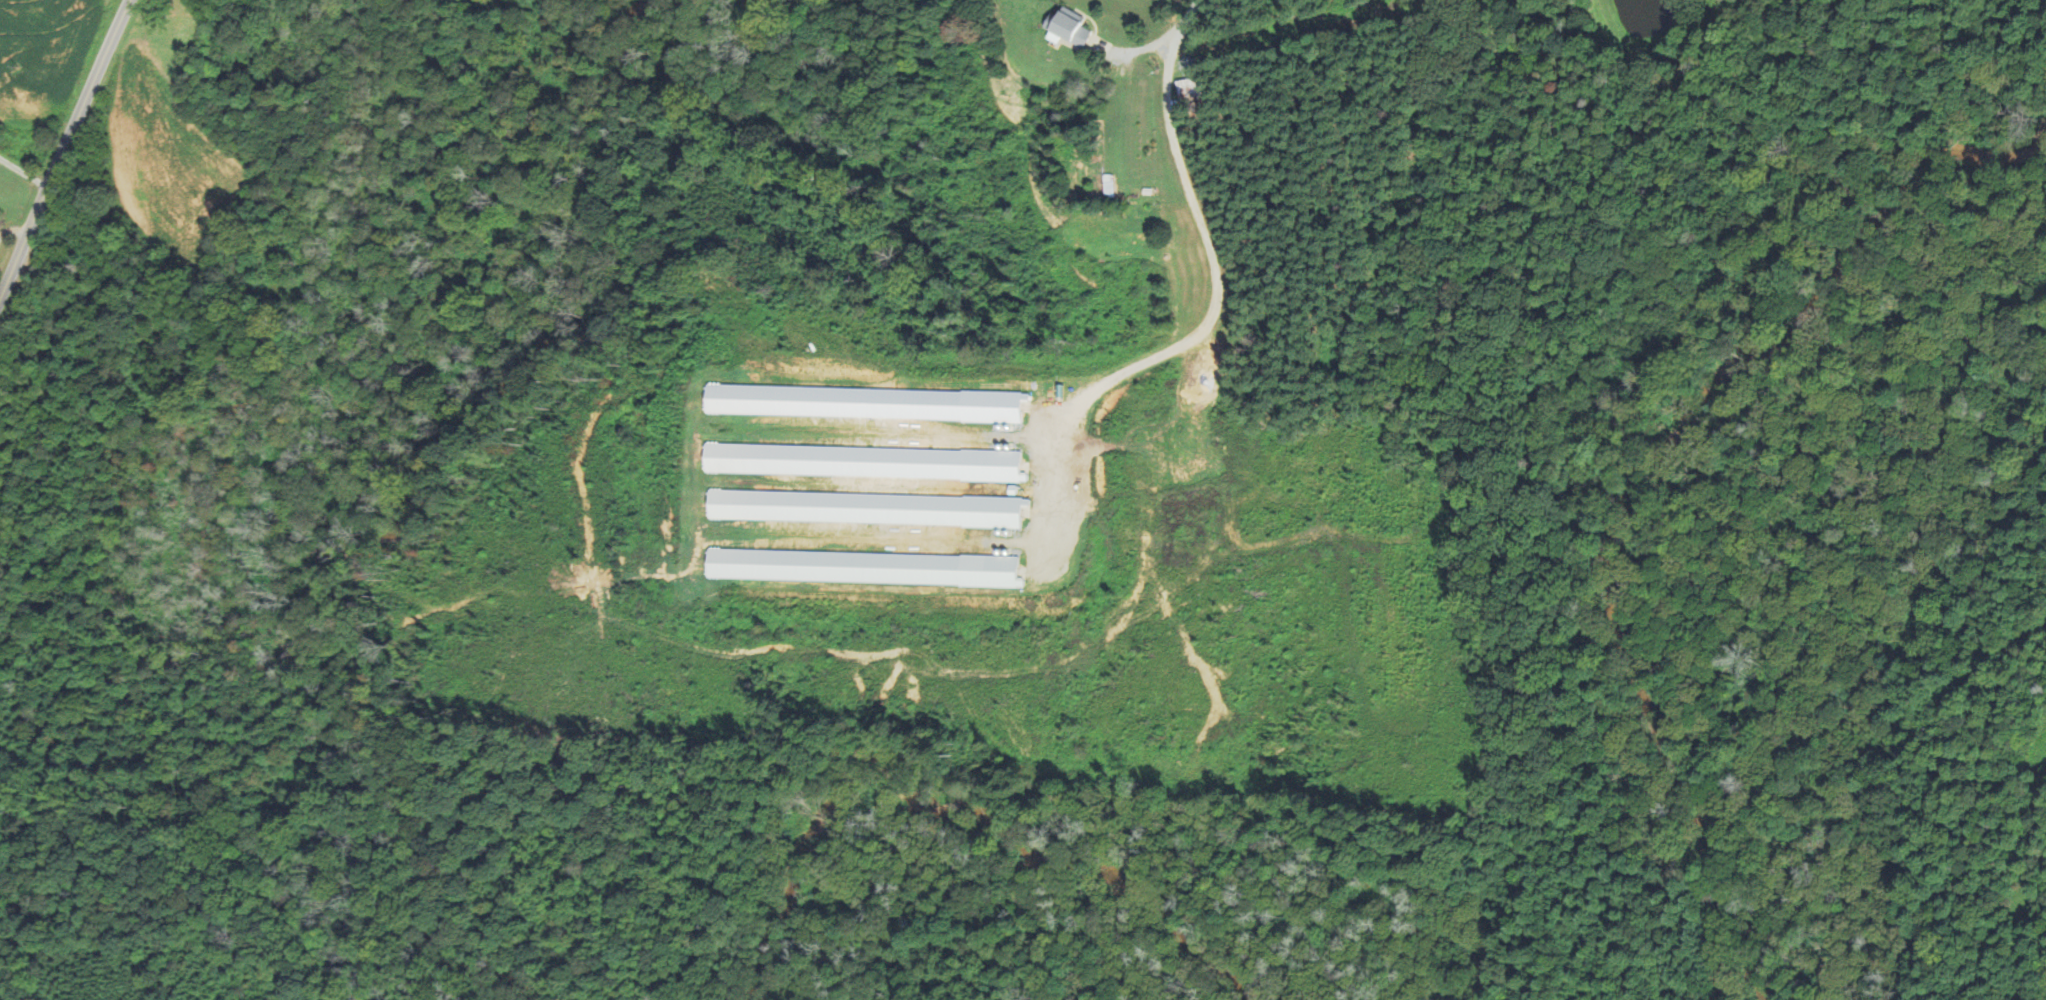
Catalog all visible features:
building: (1074, 27)
building: (1182, 88)
road: (64, 148)
road: (23, 174)
building: (1113, 189)
road: (1214, 316)

